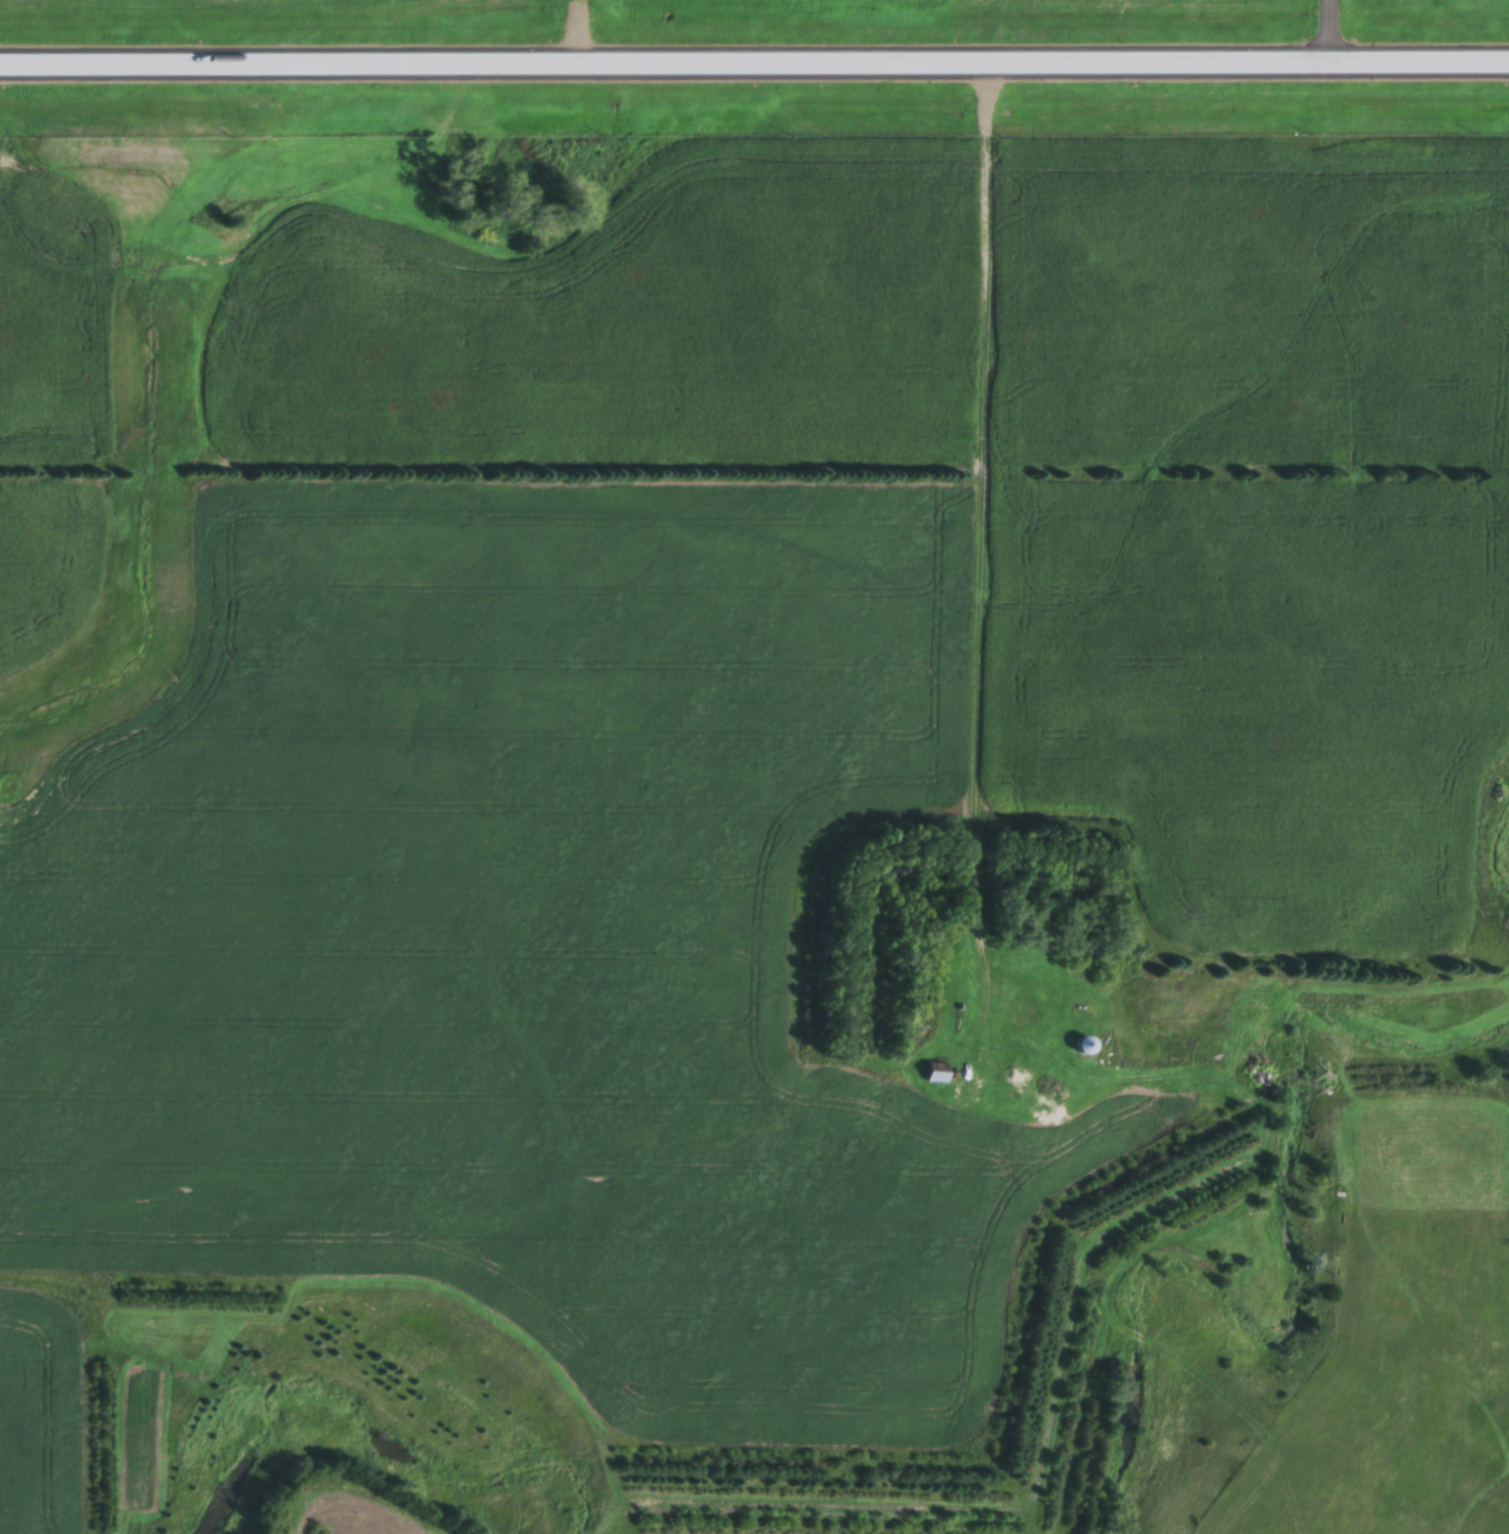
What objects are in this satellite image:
road: (1332, 30)
road: (754, 59)
building: (1505, 62)
building: (1134, 63)
building: (1330, 63)
road: (969, 572)
building: (1082, 1045)
building: (933, 1077)
building: (1045, 1099)

